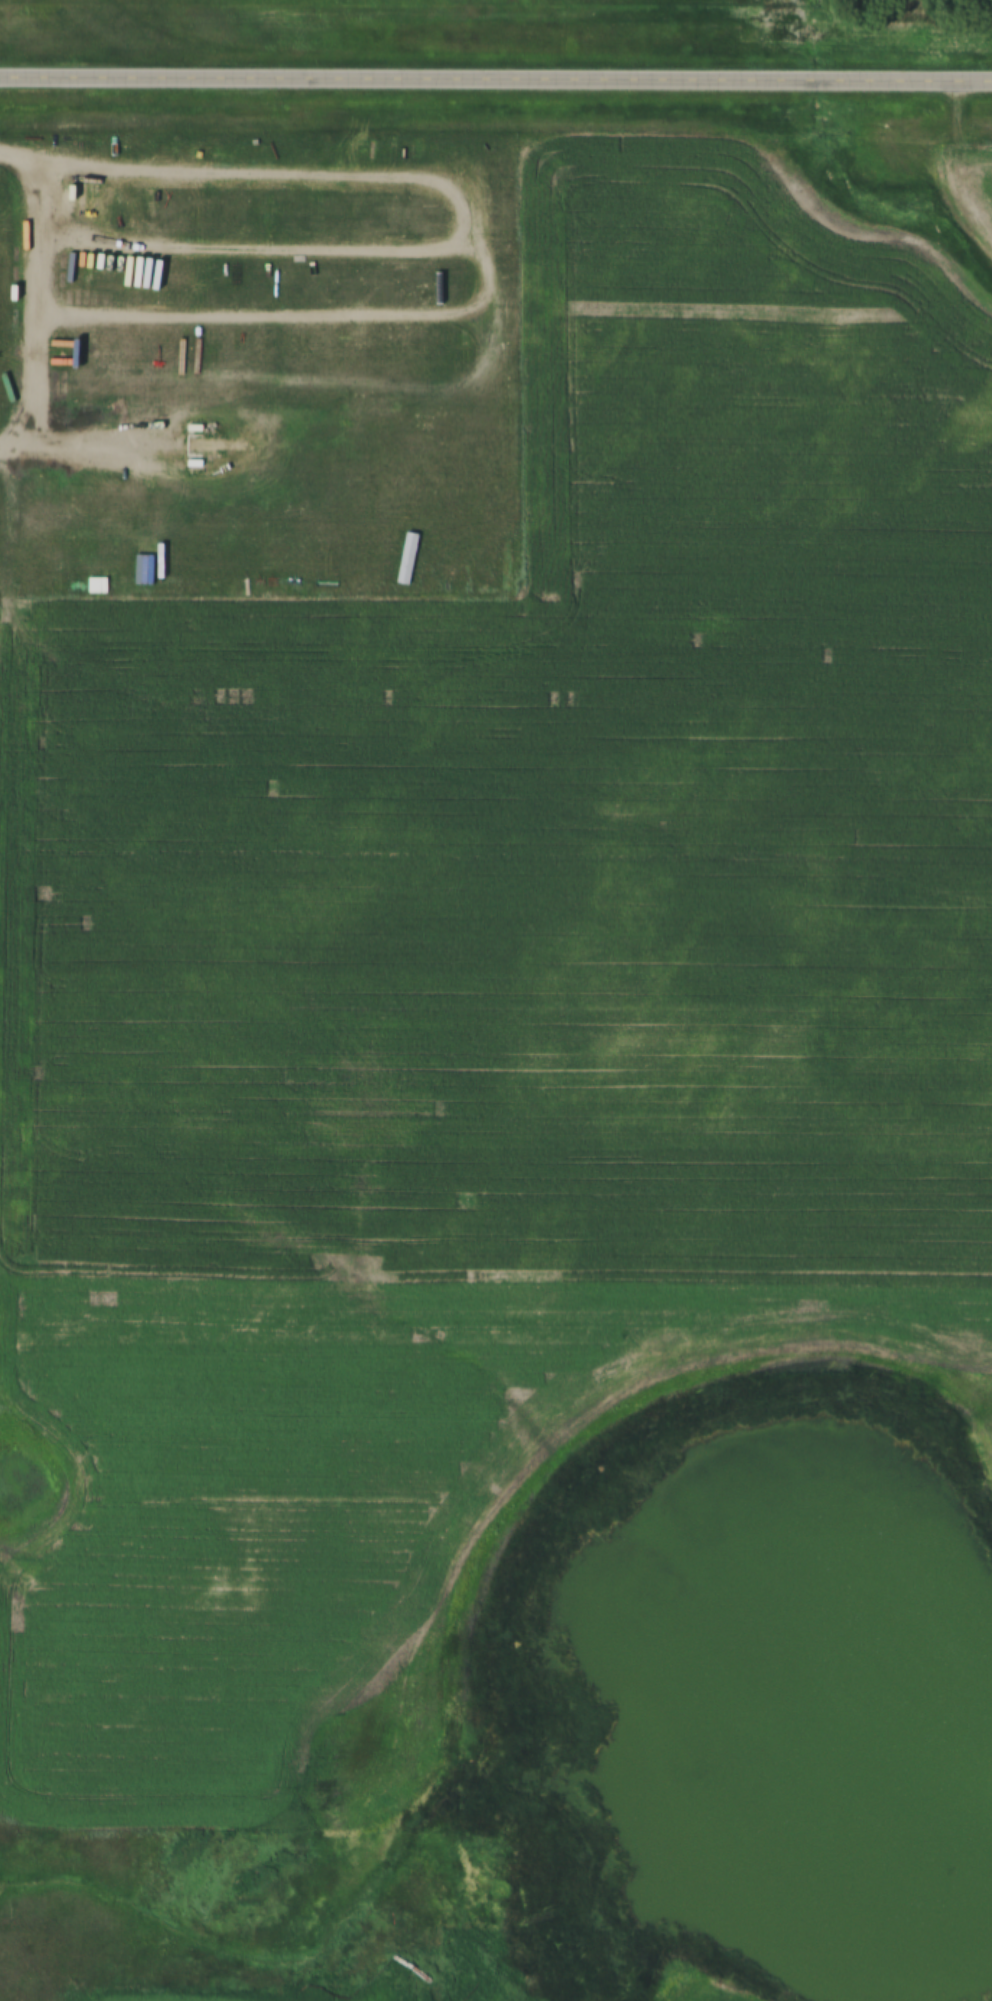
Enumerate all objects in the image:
road: (495, 81)

